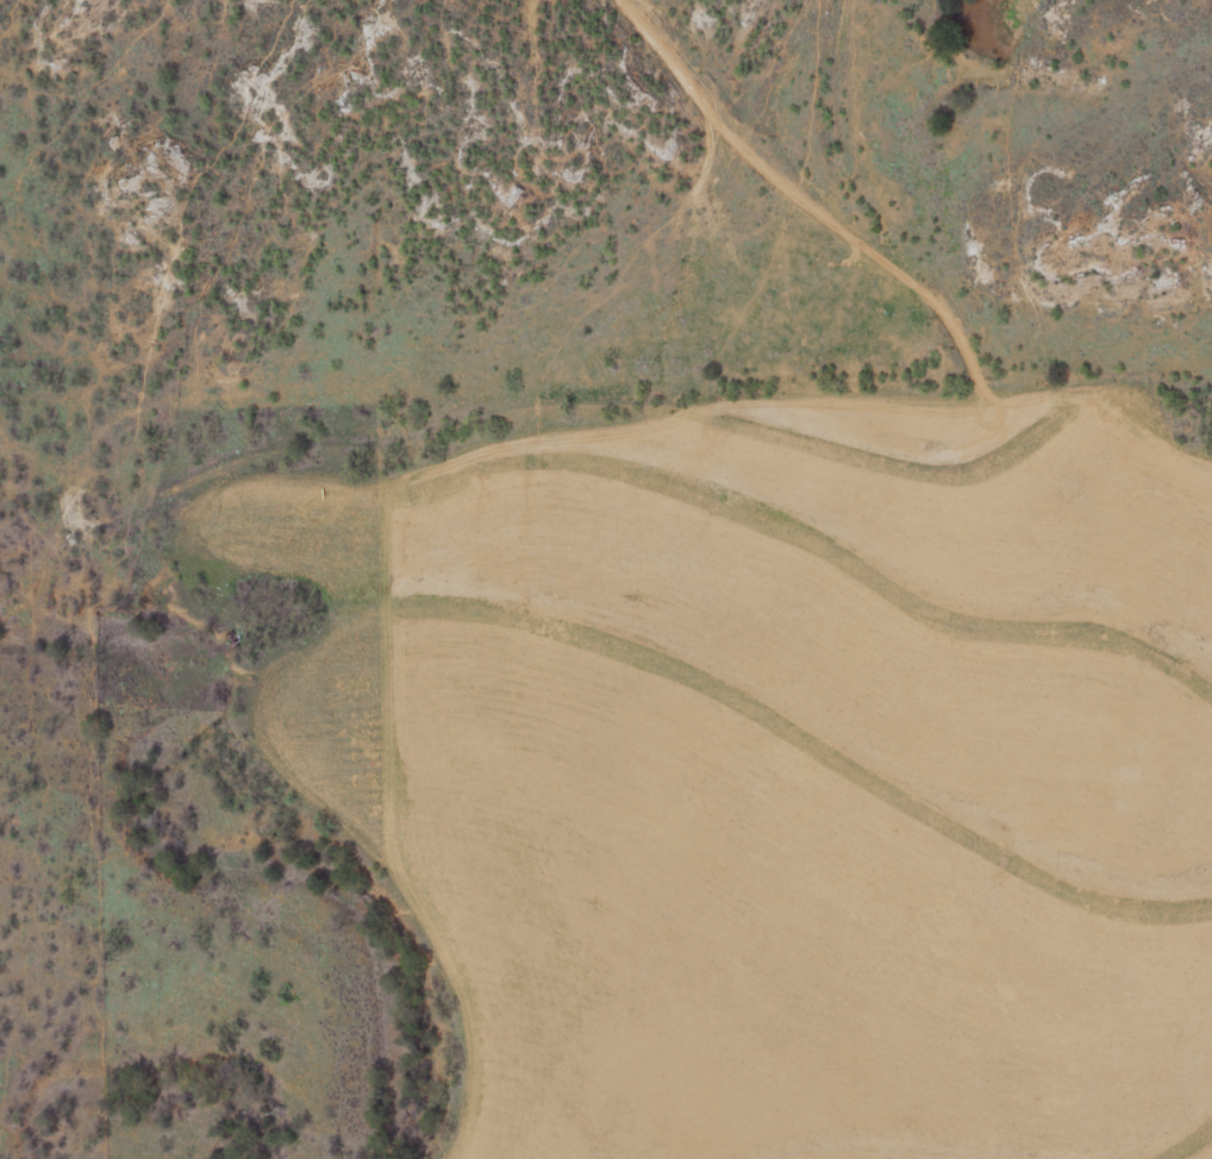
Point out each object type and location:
road: (939, 306)

